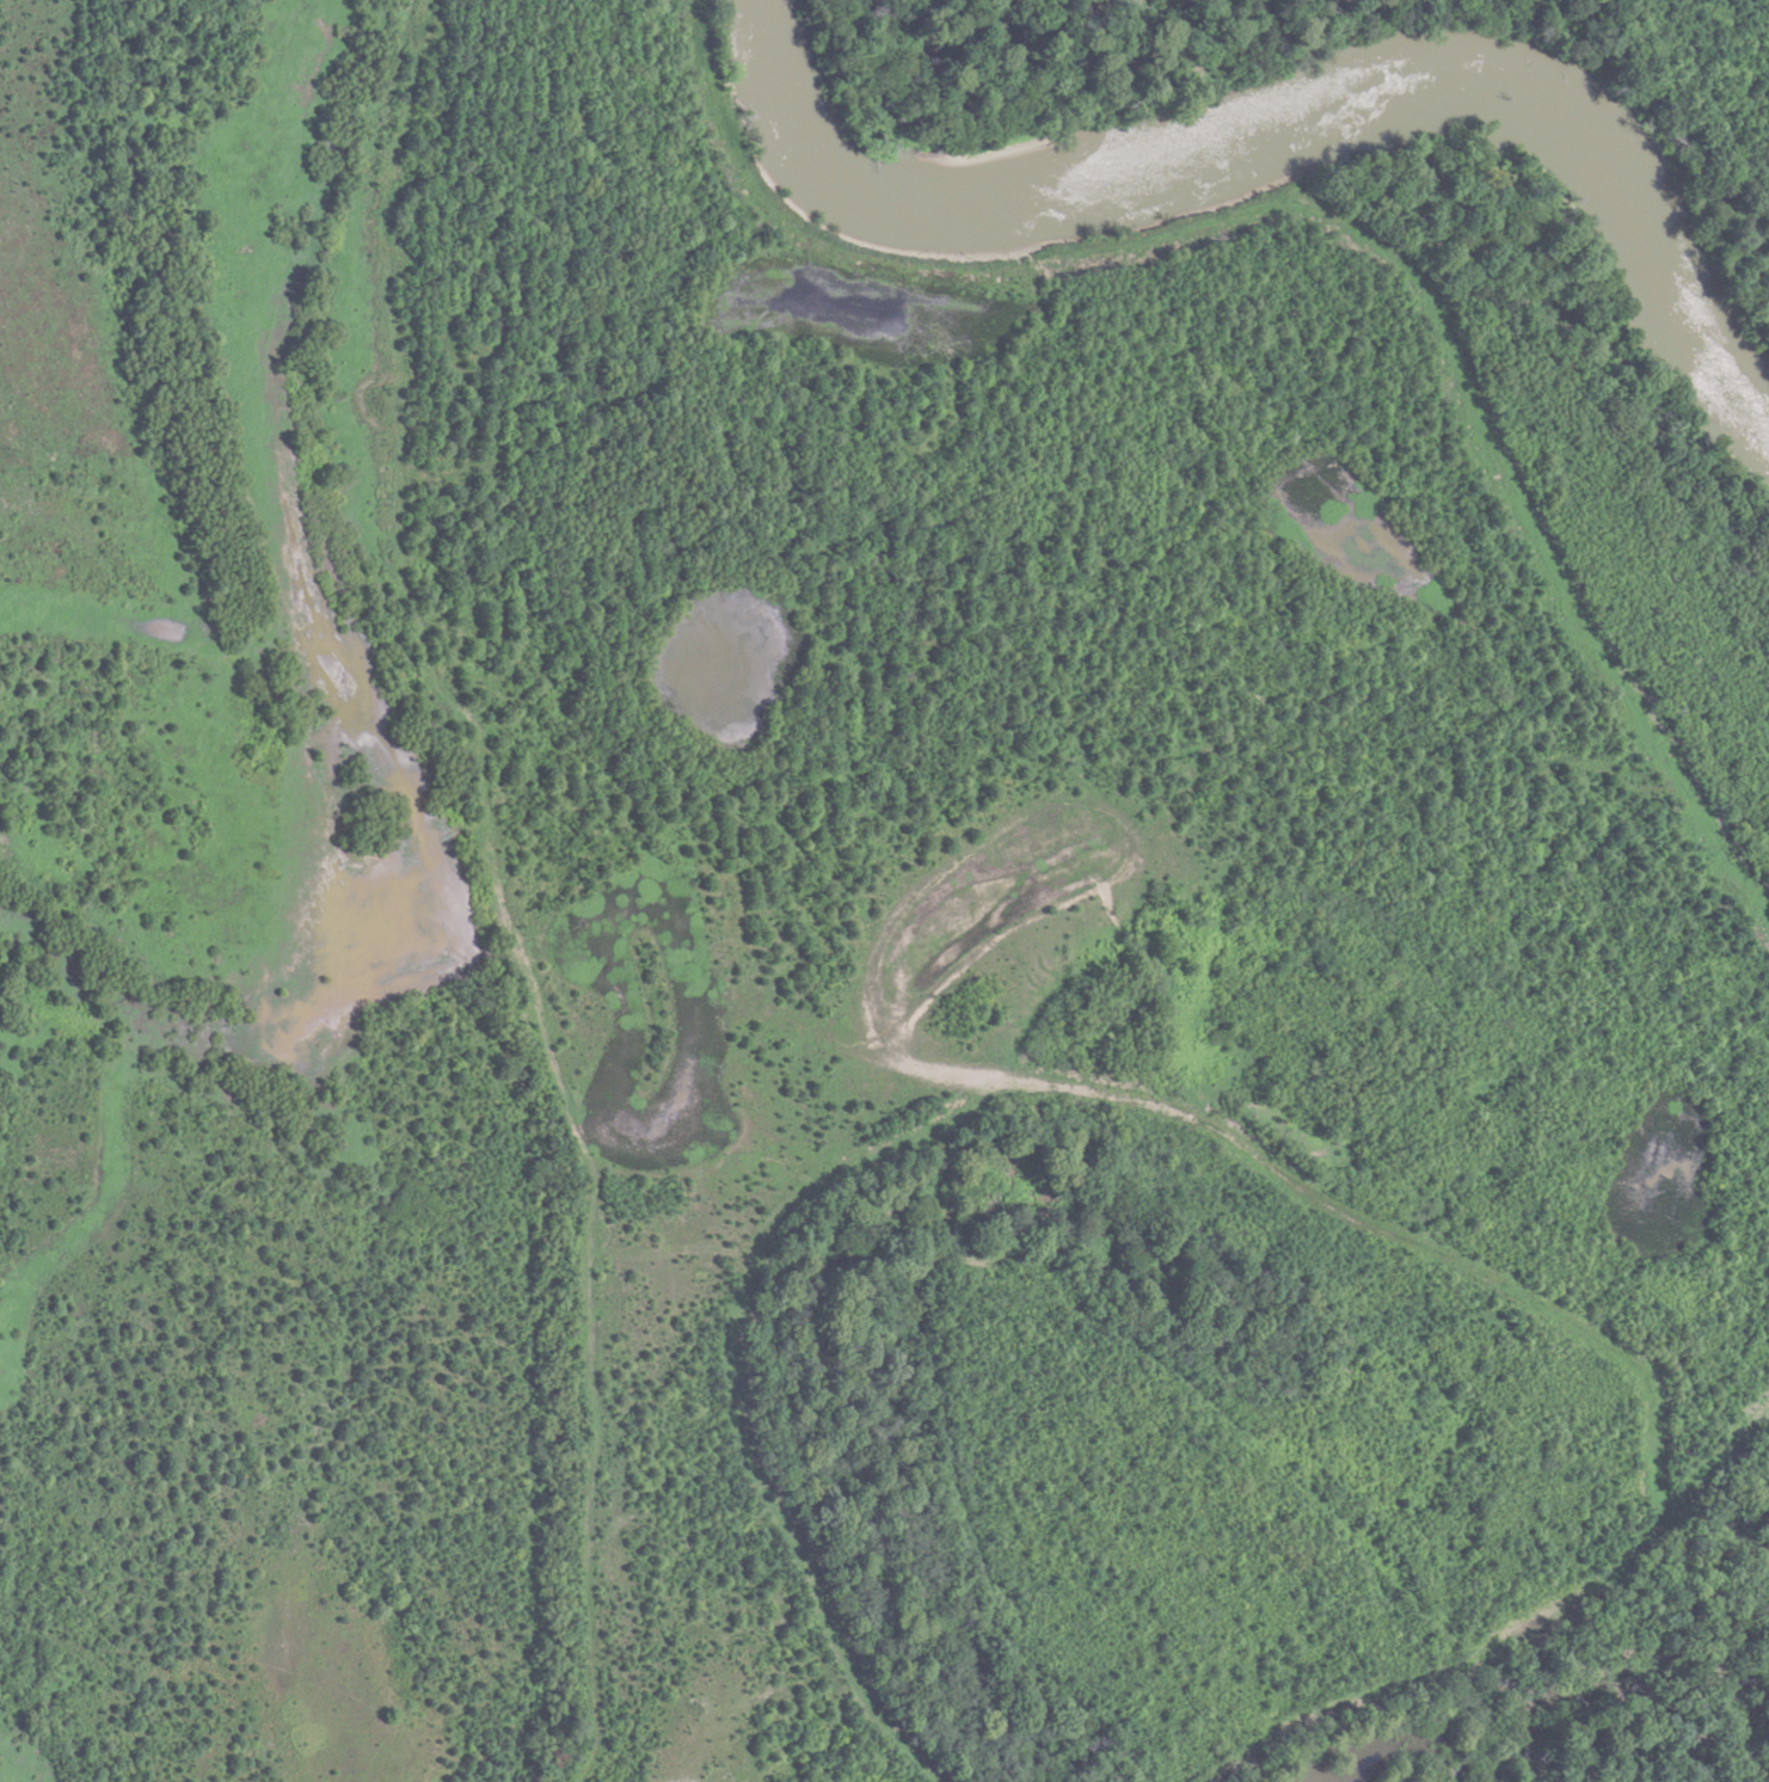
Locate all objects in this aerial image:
river: (1289, 118)

